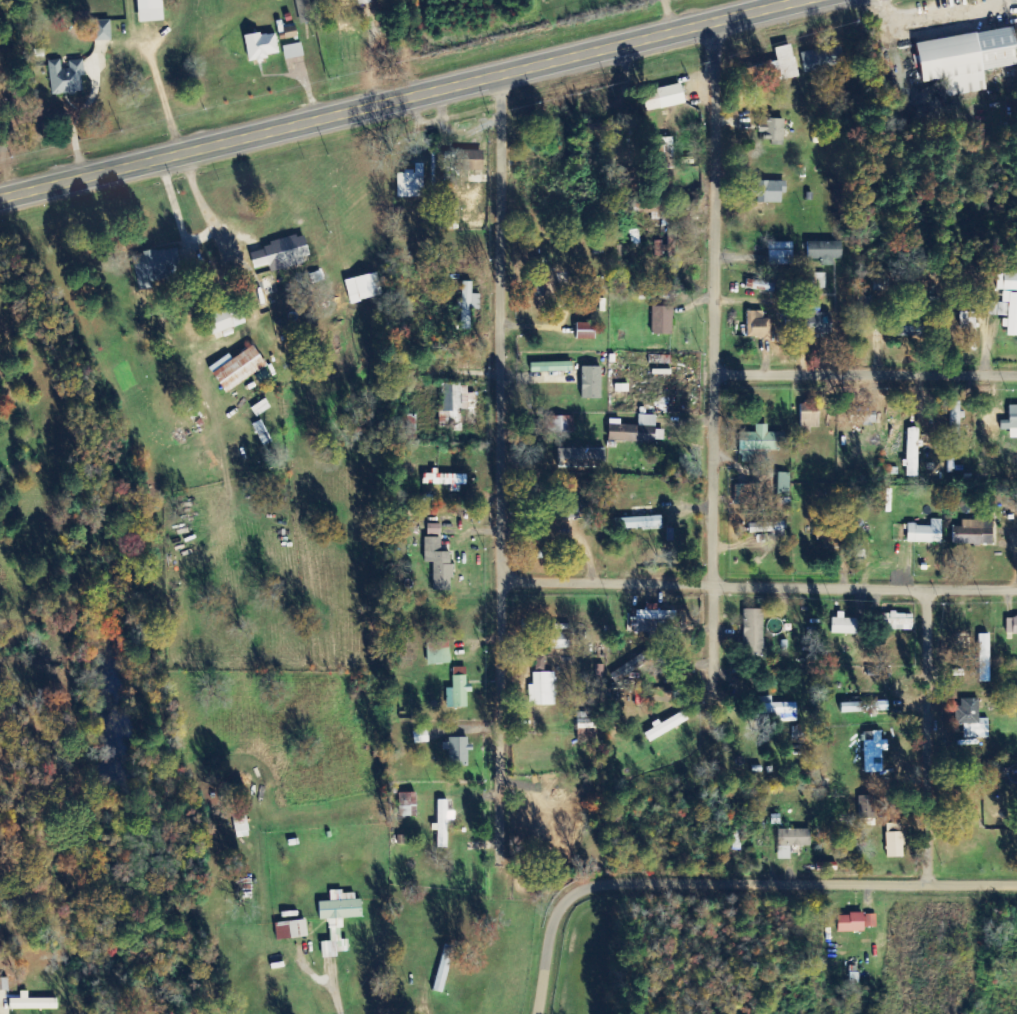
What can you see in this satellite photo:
building: (340, 0)
building: (150, 11)
road: (669, 14)
building: (103, 31)
building: (290, 32)
building: (262, 47)
building: (293, 52)
building: (823, 59)
building: (967, 60)
building: (773, 68)
building: (66, 78)
road: (161, 94)
road: (397, 98)
building: (666, 98)
building: (598, 129)
building: (773, 131)
building: (666, 153)
building: (411, 184)
building: (770, 193)
building: (634, 237)
building: (825, 252)
building: (781, 253)
building: (281, 254)
building: (155, 267)
building: (819, 280)
building: (1007, 282)
building: (760, 286)
building: (364, 287)
road: (714, 301)
building: (468, 305)
building: (1005, 312)
building: (817, 319)
building: (225, 320)
building: (662, 320)
building: (758, 325)
building: (586, 331)
building: (907, 331)
building: (551, 367)
building: (238, 368)
road: (865, 374)
building: (591, 382)
building: (456, 404)
building: (810, 413)
building: (1011, 422)
building: (558, 425)
building: (634, 431)
building: (759, 444)
building: (913, 453)
road: (501, 468)
building: (446, 480)
building: (783, 484)
building: (746, 493)
building: (641, 523)
building: (767, 527)
building: (434, 529)
building: (926, 533)
building: (973, 533)
building: (439, 563)
road: (758, 584)
building: (652, 620)
building: (900, 621)
building: (844, 624)
building: (1011, 626)
building: (753, 633)
road: (712, 639)
building: (561, 641)
building: (438, 650)
building: (984, 658)
building: (458, 689)
building: (543, 689)
building: (642, 699)
building: (864, 707)
building: (779, 710)
building: (972, 719)
building: (586, 720)
building: (666, 726)
road: (927, 735)
building: (457, 751)
building: (873, 751)
building: (408, 805)
building: (867, 807)
building: (443, 823)
building: (791, 841)
building: (895, 841)
road: (734, 881)
building: (338, 920)
building: (856, 923)
building: (293, 930)
building: (33, 1003)

